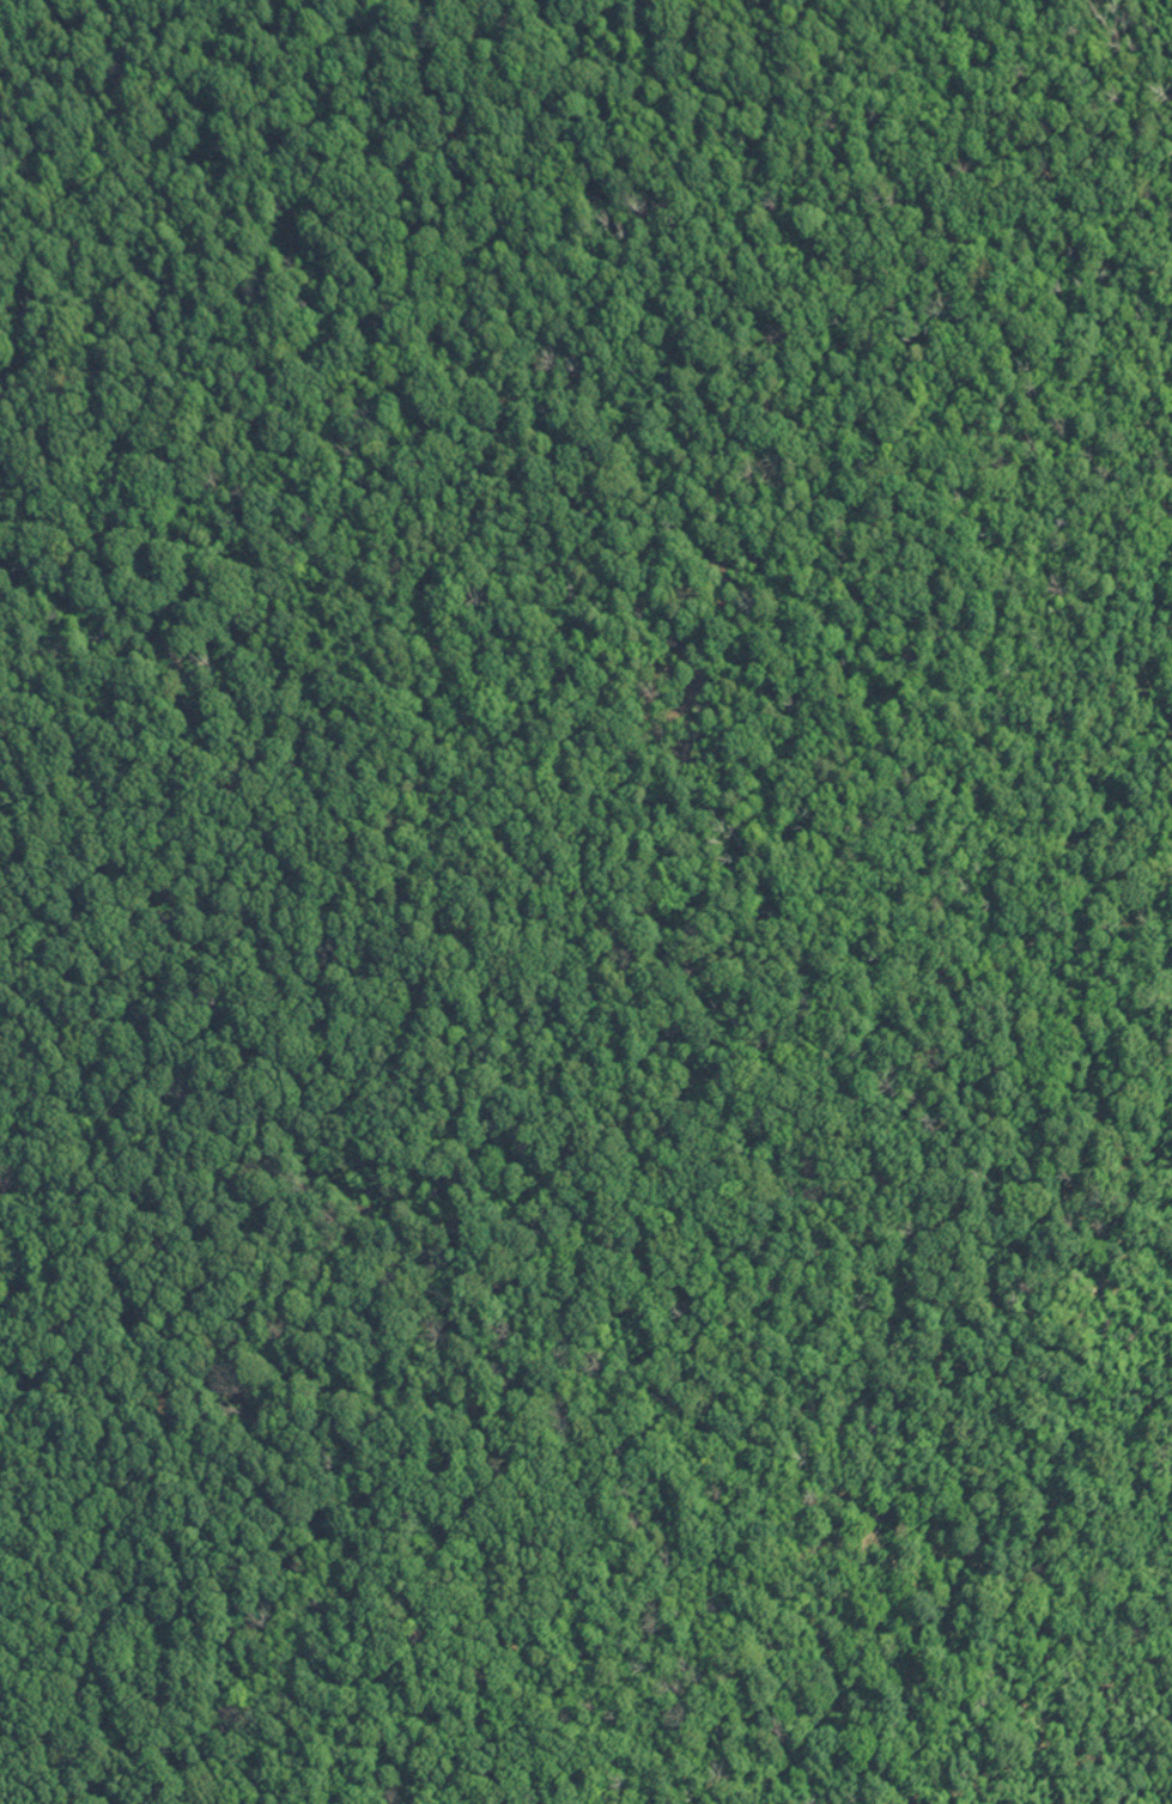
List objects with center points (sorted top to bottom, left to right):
road: (922, 879)

